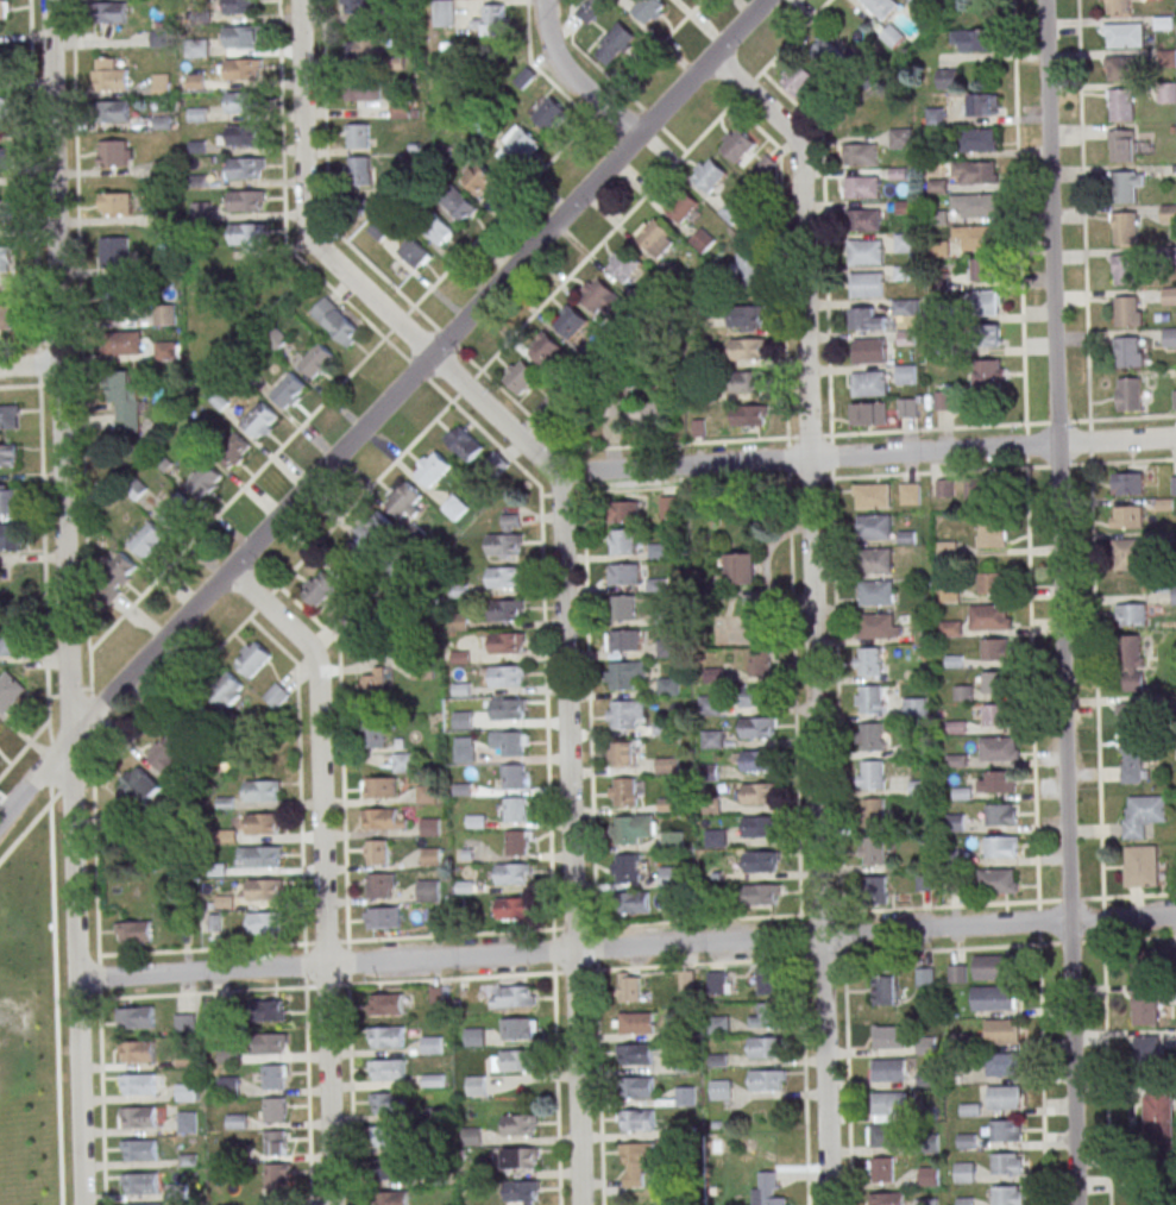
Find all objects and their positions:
building: (240, 6)
building: (359, 6)
building: (881, 7)
building: (1118, 7)
building: (2, 10)
building: (589, 10)
building: (649, 10)
building: (111, 12)
building: (445, 13)
building: (491, 20)
building: (1124, 34)
building: (243, 36)
building: (892, 36)
road: (792, 39)
building: (971, 39)
building: (366, 42)
building: (614, 44)
building: (828, 52)
building: (2, 64)
building: (1121, 68)
building: (241, 69)
building: (108, 74)
building: (524, 77)
road: (572, 77)
building: (797, 79)
building: (948, 79)
building: (161, 83)
road: (746, 87)
building: (363, 92)
building: (243, 101)
building: (982, 105)
building: (1121, 105)
building: (5, 109)
building: (115, 111)
building: (549, 114)
building: (933, 117)
building: (244, 134)
building: (358, 136)
building: (900, 138)
building: (980, 139)
building: (740, 145)
building: (1122, 145)
building: (516, 146)
building: (115, 152)
building: (861, 153)
road: (554, 157)
building: (6, 159)
building: (245, 169)
building: (359, 170)
road: (33, 171)
road: (326, 171)
building: (973, 172)
building: (710, 176)
building: (483, 180)
building: (861, 186)
building: (1127, 187)
building: (245, 201)
building: (115, 202)
road: (303, 203)
building: (975, 203)
road: (284, 206)
building: (683, 206)
building: (458, 207)
building: (4, 212)
building: (1168, 213)
road: (1083, 215)
road: (1019, 216)
building: (863, 220)
building: (1125, 227)
building: (378, 230)
building: (438, 230)
building: (243, 233)
building: (654, 236)
road: (605, 237)
building: (975, 237)
building: (702, 240)
building: (905, 243)
building: (114, 251)
building: (414, 252)
building: (864, 252)
building: (5, 258)
road: (782, 263)
building: (625, 265)
building: (982, 269)
building: (1125, 269)
building: (749, 272)
building: (867, 284)
building: (598, 295)
building: (1169, 295)
building: (114, 302)
building: (987, 302)
building: (905, 307)
building: (1128, 310)
building: (164, 314)
building: (6, 316)
building: (747, 318)
building: (866, 319)
building: (337, 320)
road: (398, 322)
building: (572, 324)
road: (80, 325)
building: (986, 335)
building: (1170, 337)
building: (905, 338)
building: (122, 343)
building: (747, 347)
building: (165, 350)
building: (868, 350)
building: (546, 351)
building: (1128, 351)
building: (316, 359)
road: (30, 365)
road: (39, 365)
road: (416, 369)
building: (905, 374)
building: (989, 374)
building: (520, 377)
building: (747, 382)
building: (868, 383)
road: (464, 385)
building: (289, 390)
building: (1128, 394)
building: (944, 400)
building: (125, 402)
road: (379, 407)
building: (907, 408)
building: (648, 412)
building: (868, 413)
road: (527, 414)
building: (747, 415)
building: (10, 418)
road: (1122, 418)
building: (260, 420)
road: (1058, 421)
road: (935, 428)
road: (809, 435)
road: (830, 439)
building: (463, 441)
road: (1090, 441)
road: (680, 443)
road: (1026, 444)
building: (232, 451)
building: (8, 454)
road: (831, 456)
road: (787, 459)
road: (779, 460)
road: (1026, 462)
road: (1084, 463)
road: (1059, 465)
building: (432, 470)
road: (577, 471)
road: (831, 477)
road: (810, 478)
building: (203, 479)
building: (1127, 483)
road: (685, 487)
building: (944, 488)
building: (985, 488)
road: (364, 494)
road: (562, 494)
building: (910, 494)
road: (545, 495)
building: (870, 495)
building: (8, 500)
building: (404, 500)
building: (454, 507)
building: (667, 507)
building: (175, 509)
building: (624, 510)
building: (1126, 516)
road: (212, 520)
building: (874, 526)
building: (377, 531)
building: (992, 533)
building: (11, 536)
building: (505, 538)
building: (149, 541)
building: (622, 541)
building: (1126, 553)
building: (876, 559)
building: (348, 560)
road: (43, 564)
building: (741, 569)
building: (623, 573)
building: (505, 577)
building: (992, 583)
road: (834, 586)
building: (320, 590)
building: (875, 592)
road: (67, 602)
road: (263, 602)
road: (1062, 602)
building: (622, 607)
building: (505, 609)
road: (811, 611)
building: (1131, 615)
building: (988, 616)
building: (337, 621)
building: (458, 621)
building: (876, 625)
road: (542, 628)
building: (12, 640)
building: (624, 640)
building: (507, 642)
building: (996, 648)
building: (252, 658)
building: (867, 660)
building: (760, 663)
building: (1132, 663)
building: (623, 673)
building: (505, 676)
building: (995, 682)
building: (372, 683)
building: (10, 690)
building: (226, 690)
building: (276, 695)
building: (755, 695)
building: (868, 698)
road: (170, 699)
road: (587, 704)
building: (709, 704)
building: (914, 707)
building: (508, 709)
building: (624, 713)
building: (995, 714)
building: (1131, 714)
building: (463, 718)
building: (199, 722)
building: (756, 728)
building: (375, 734)
building: (869, 736)
building: (711, 739)
building: (509, 743)
building: (999, 748)
building: (464, 749)
road: (24, 751)
road: (341, 751)
building: (622, 753)
building: (166, 754)
building: (1131, 758)
building: (756, 760)
building: (403, 761)
road: (50, 764)
building: (667, 765)
road: (298, 770)
building: (870, 774)
building: (514, 776)
building: (996, 780)
building: (138, 786)
building: (381, 786)
road: (70, 787)
building: (262, 791)
building: (622, 791)
building: (757, 792)
building: (426, 793)
building: (515, 809)
building: (872, 811)
building: (1001, 814)
building: (1142, 814)
building: (384, 818)
building: (263, 823)
road: (29, 824)
building: (429, 826)
building: (757, 826)
building: (624, 829)
road: (1100, 834)
road: (1036, 836)
building: (715, 837)
road: (571, 839)
road: (798, 840)
building: (516, 842)
building: (1001, 846)
road: (94, 848)
building: (873, 851)
building: (377, 852)
building: (429, 855)
building: (264, 858)
building: (759, 861)
building: (1140, 866)
road: (322, 868)
building: (625, 868)
building: (512, 873)
building: (666, 875)
building: (998, 880)
building: (379, 885)
building: (265, 890)
building: (427, 890)
building: (875, 890)
building: (760, 895)
building: (634, 902)
building: (511, 908)
road: (881, 911)
building: (382, 917)
building: (265, 923)
road: (573, 927)
road: (595, 930)
building: (133, 933)
road: (551, 933)
road: (448, 934)
road: (325, 943)
road: (347, 944)
road: (303, 947)
road: (627, 947)
road: (595, 948)
road: (203, 949)
road: (552, 950)
road: (881, 954)
building: (1171, 954)
road: (347, 962)
road: (303, 965)
building: (992, 967)
building: (1145, 967)
road: (574, 971)
building: (924, 975)
road: (449, 978)
building: (685, 980)
building: (767, 980)
building: (717, 981)
road: (342, 984)
road: (325, 985)
building: (628, 986)
building: (887, 989)
road: (206, 992)
road: (55, 996)
building: (512, 996)
building: (993, 997)
building: (385, 1004)
building: (220, 1008)
building: (1144, 1008)
building: (270, 1010)
building: (765, 1016)
building: (137, 1017)
building: (636, 1022)
building: (184, 1023)
building: (717, 1024)
building: (517, 1028)
building: (1001, 1031)
building: (473, 1036)
building: (386, 1038)
building: (889, 1038)
building: (269, 1043)
building: (432, 1044)
building: (766, 1047)
building: (1152, 1047)
building: (137, 1053)
building: (635, 1054)
building: (184, 1059)
road: (847, 1059)
building: (512, 1060)
building: (1002, 1063)
building: (889, 1069)
building: (388, 1071)
building: (275, 1077)
building: (767, 1080)
road: (101, 1084)
road: (555, 1084)
road: (597, 1084)
building: (138, 1085)
building: (228, 1085)
building: (476, 1085)
building: (635, 1086)
building: (719, 1090)
building: (185, 1092)
road: (307, 1092)
road: (350, 1094)
building: (684, 1096)
building: (1004, 1097)
building: (388, 1104)
building: (888, 1105)
building: (273, 1109)
building: (1158, 1113)
building: (139, 1118)
building: (187, 1121)
building: (237, 1121)
building: (636, 1121)
building: (518, 1124)
building: (1005, 1130)
building: (883, 1135)
building: (389, 1136)
building: (967, 1141)
building: (276, 1142)
building: (140, 1151)
building: (517, 1157)
building: (635, 1163)
building: (1006, 1163)
building: (390, 1169)
building: (881, 1169)
building: (964, 1172)
building: (140, 1184)
building: (277, 1184)
building: (521, 1192)
building: (1007, 1195)
building: (887, 1198)
building: (391, 1199)
building: (966, 1200)
building: (774, 1201)
building: (144, 1204)

